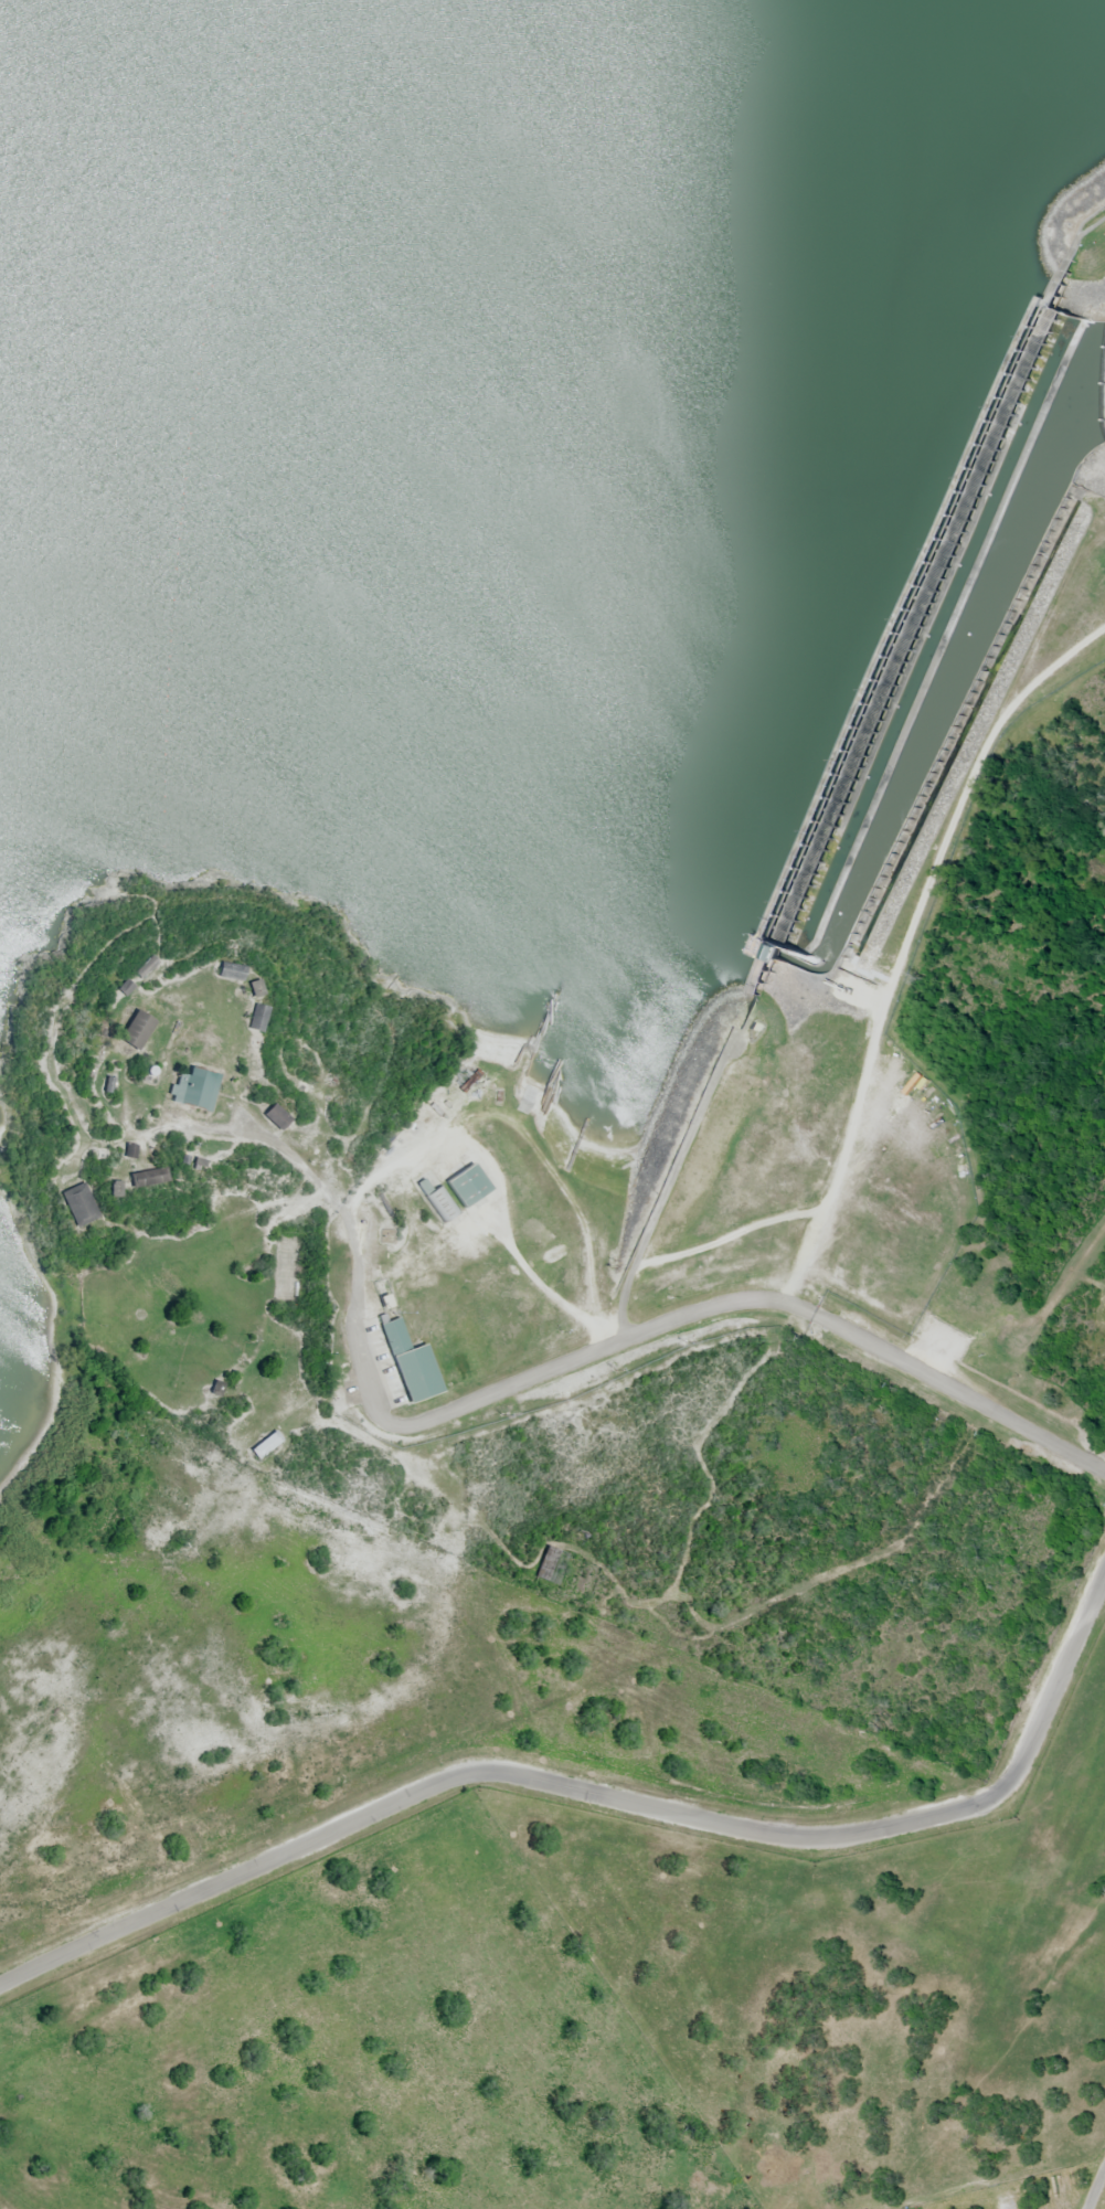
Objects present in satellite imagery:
building: (286, 261)
river: (1103, 393)
dam: (893, 637)
river: (343, 679)
river: (944, 688)
building: (195, 722)
river: (764, 952)
building: (144, 967)
building: (230, 973)
building: (256, 1019)
building: (135, 1031)
building: (192, 1091)
building: (273, 1118)
building: (146, 1179)
building: (466, 1187)
building: (439, 1204)
building: (78, 1206)
road: (1039, 1315)
parking lot: (941, 1338)
road: (928, 1358)
building: (408, 1366)
road: (960, 1394)
road: (436, 1417)
building: (265, 1446)
road: (604, 1796)
road: (1093, 2186)

